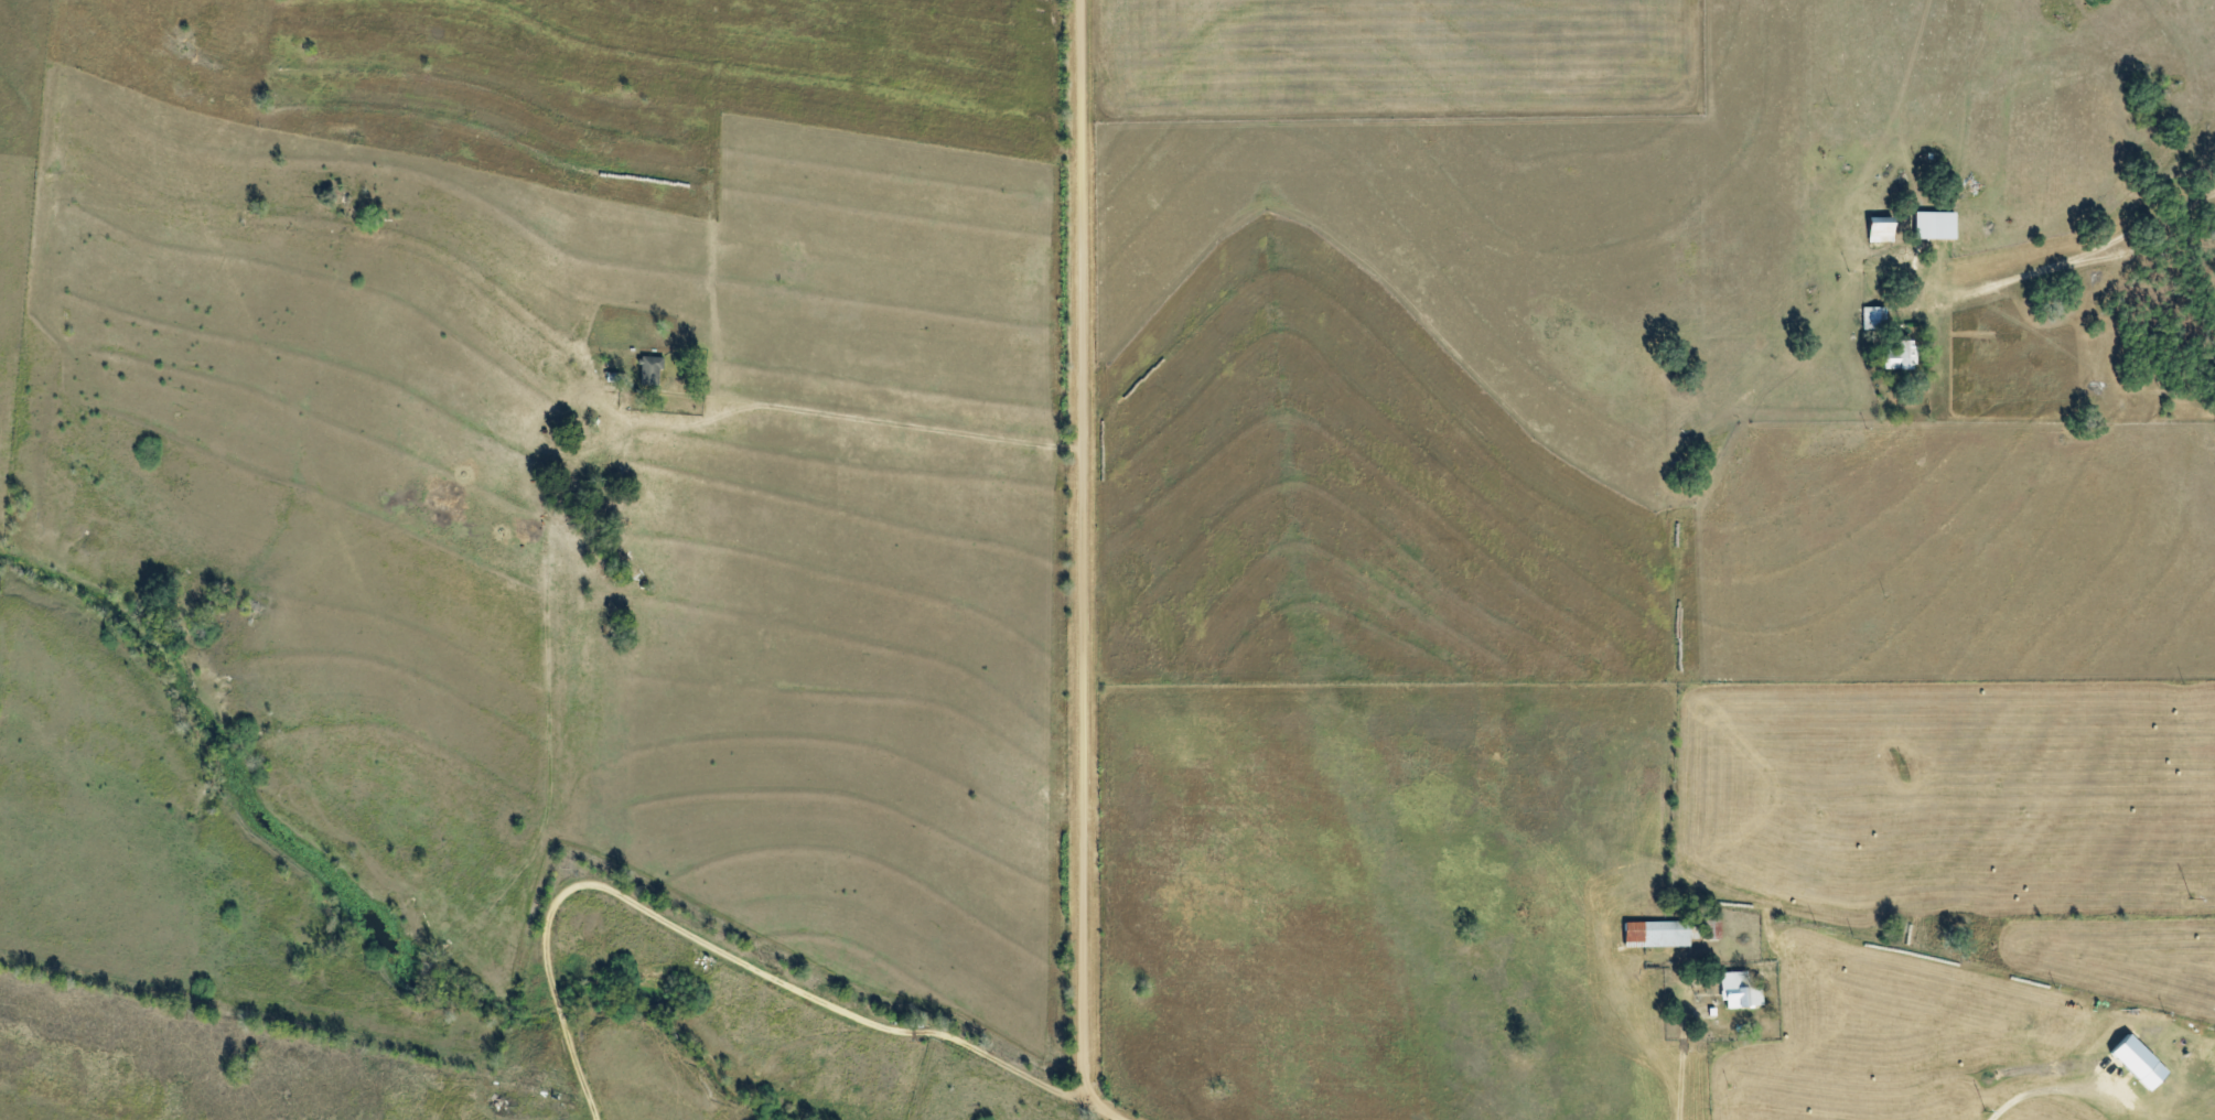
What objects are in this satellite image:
building: (1934, 226)
building: (1878, 229)
road: (2087, 258)
building: (1872, 317)
building: (1900, 356)
building: (649, 370)
road: (877, 419)
road: (1087, 567)
building: (1710, 929)
building: (1655, 934)
building: (1738, 991)
road: (895, 1032)
road: (1680, 1071)
road: (2007, 1108)

